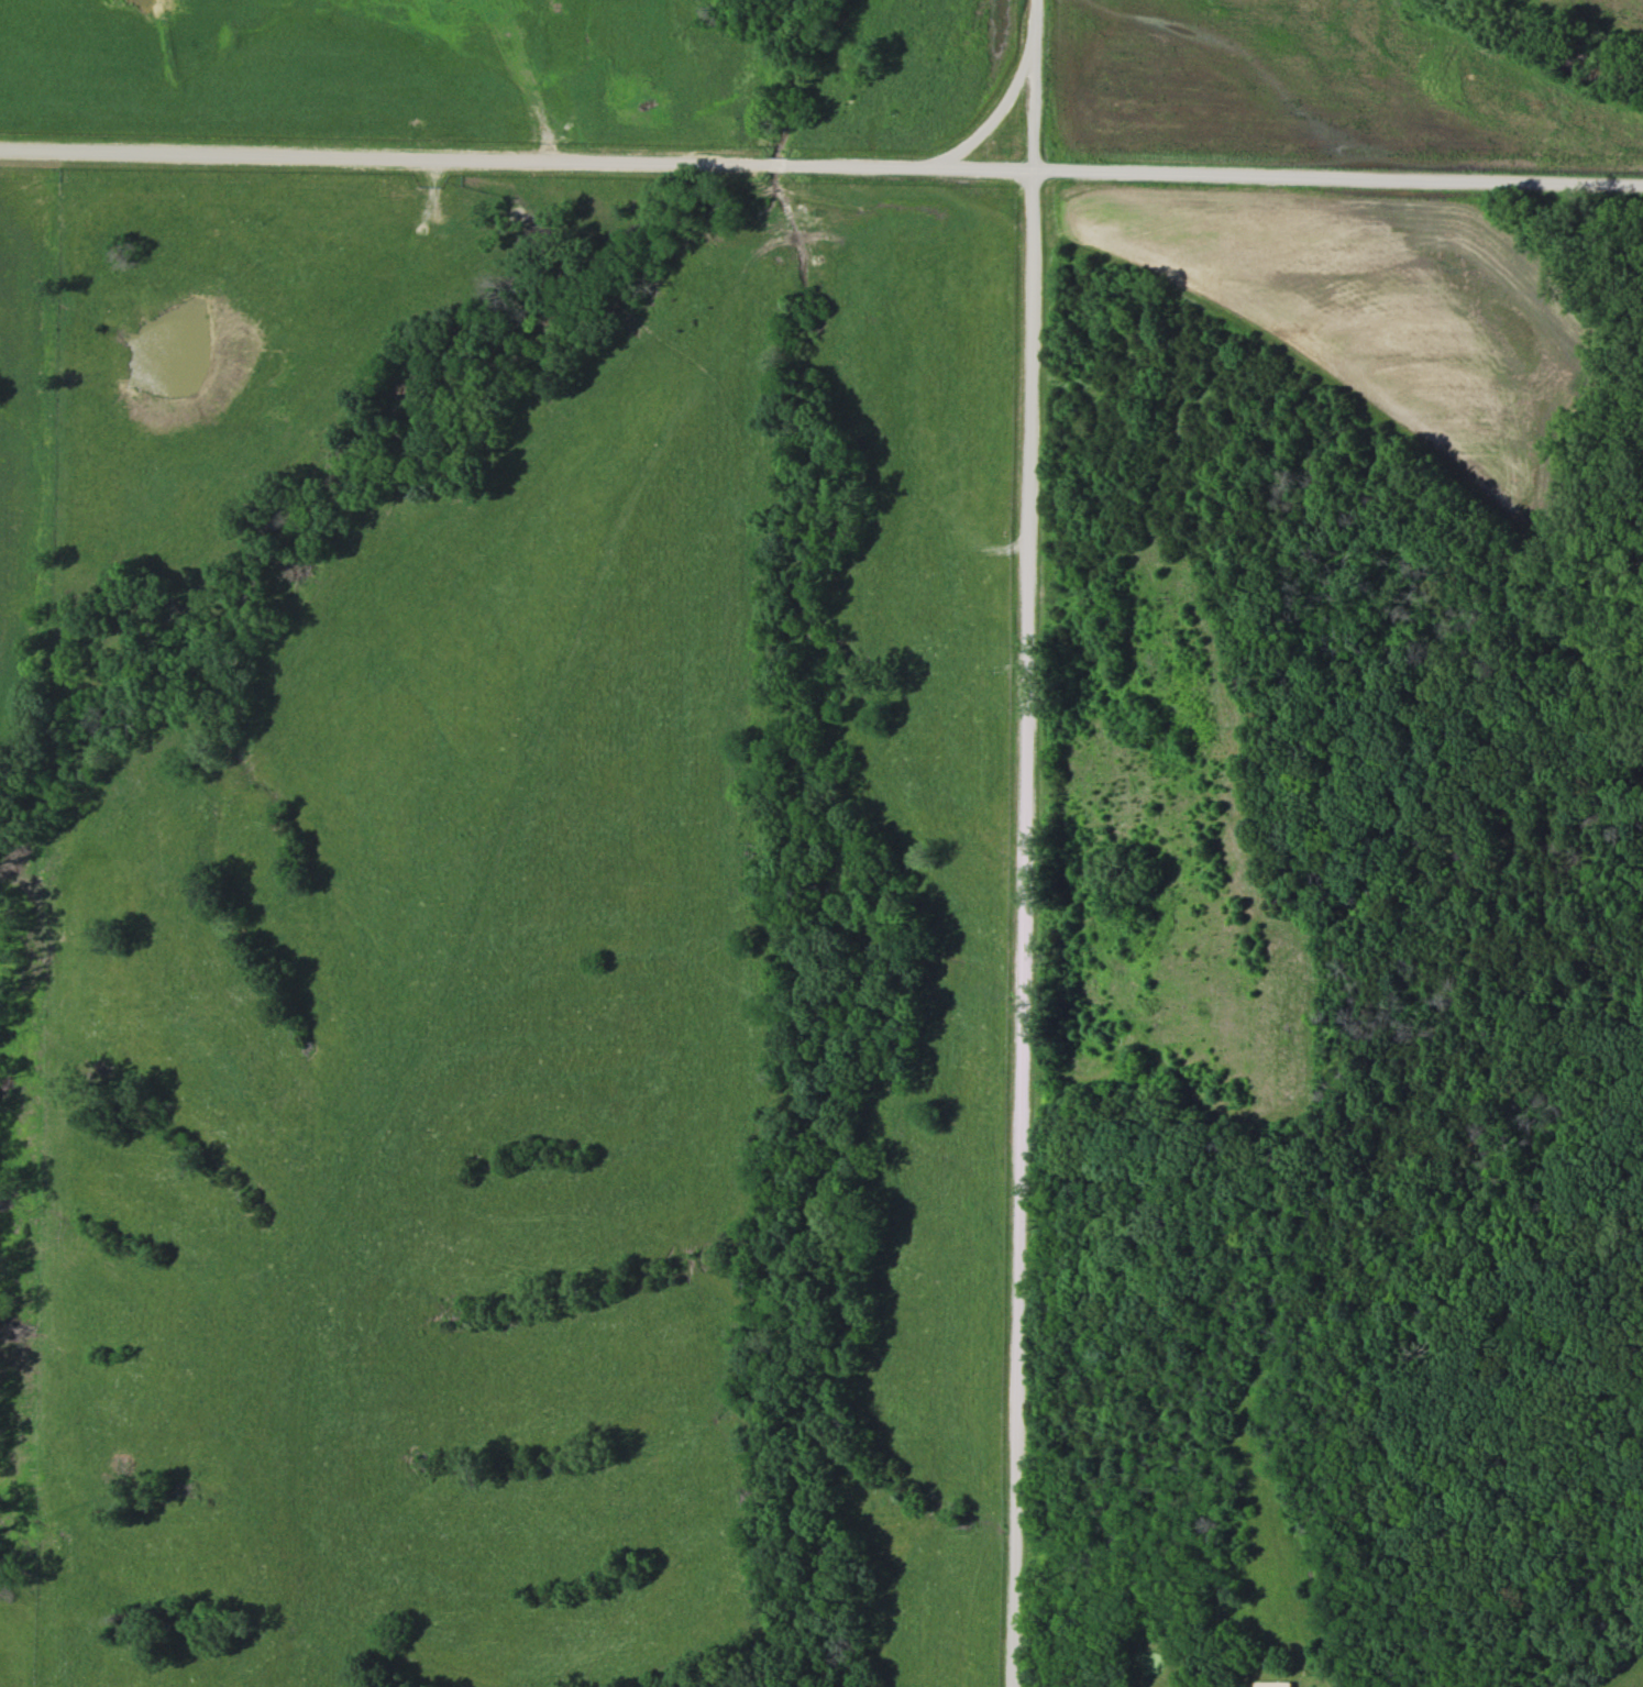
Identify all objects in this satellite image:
road: (994, 118)
road: (821, 166)
road: (1025, 843)
building: (1271, 1684)

